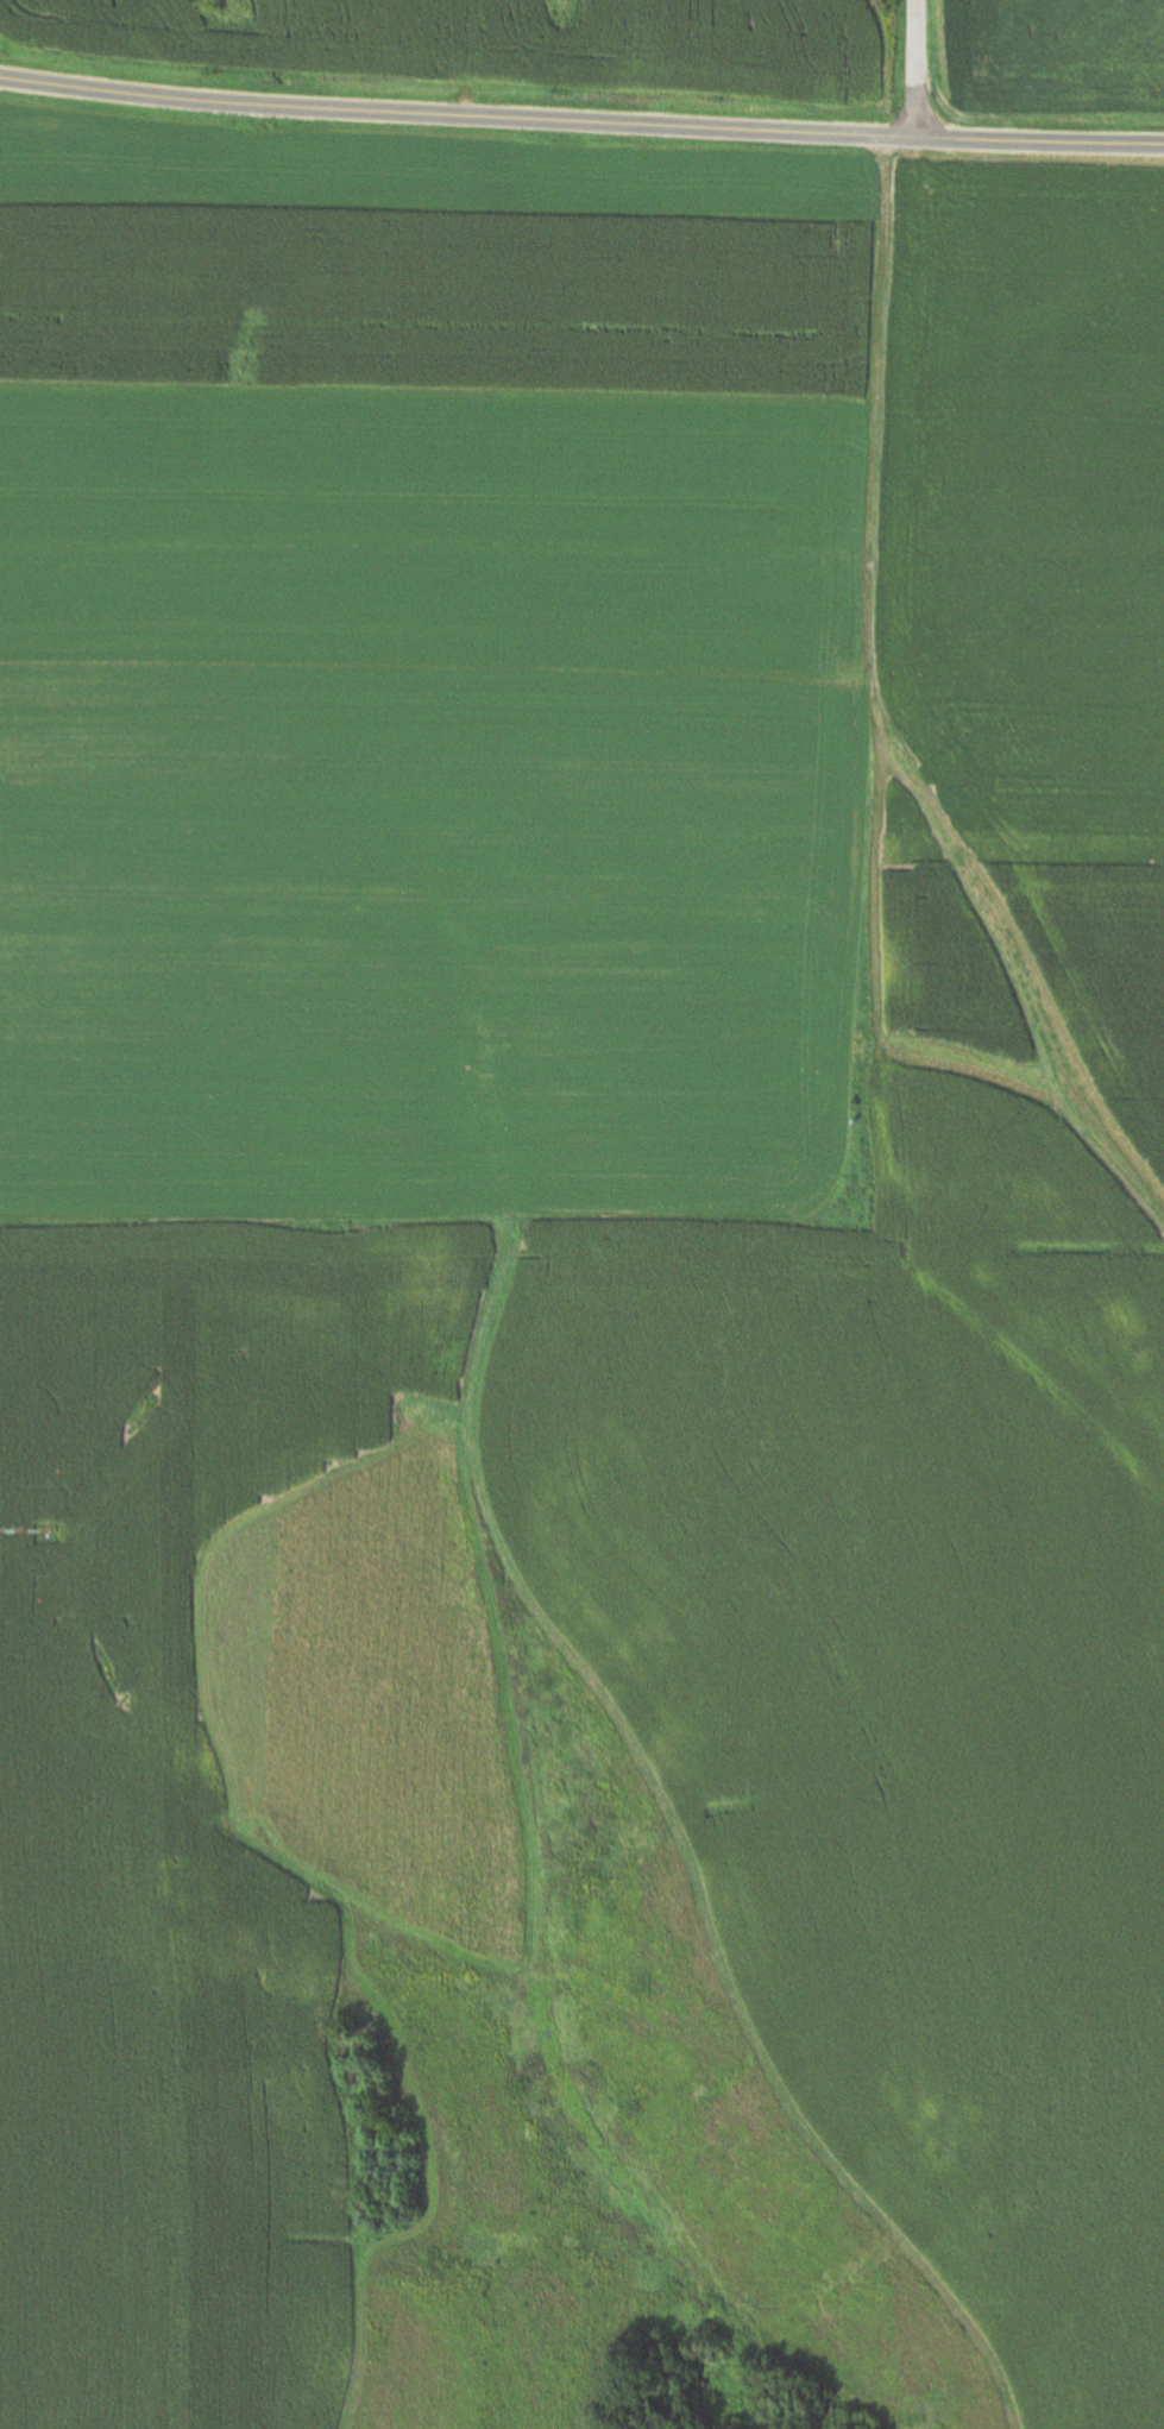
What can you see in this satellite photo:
road: (920, 70)
road: (580, 124)

